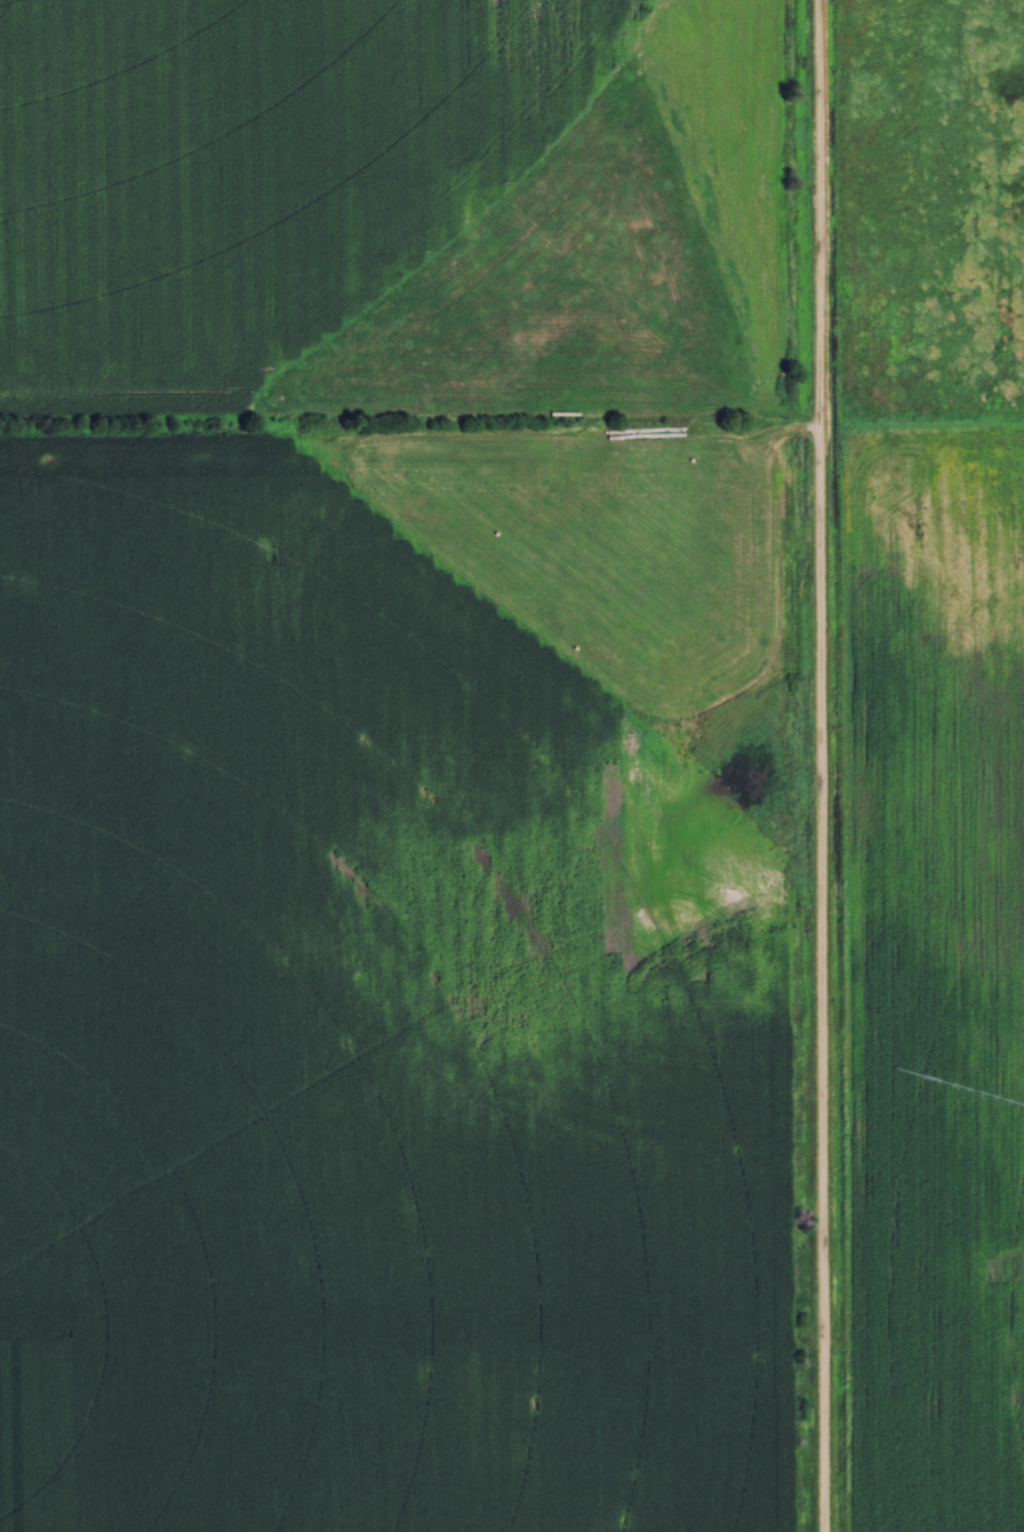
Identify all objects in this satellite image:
road: (821, 765)

